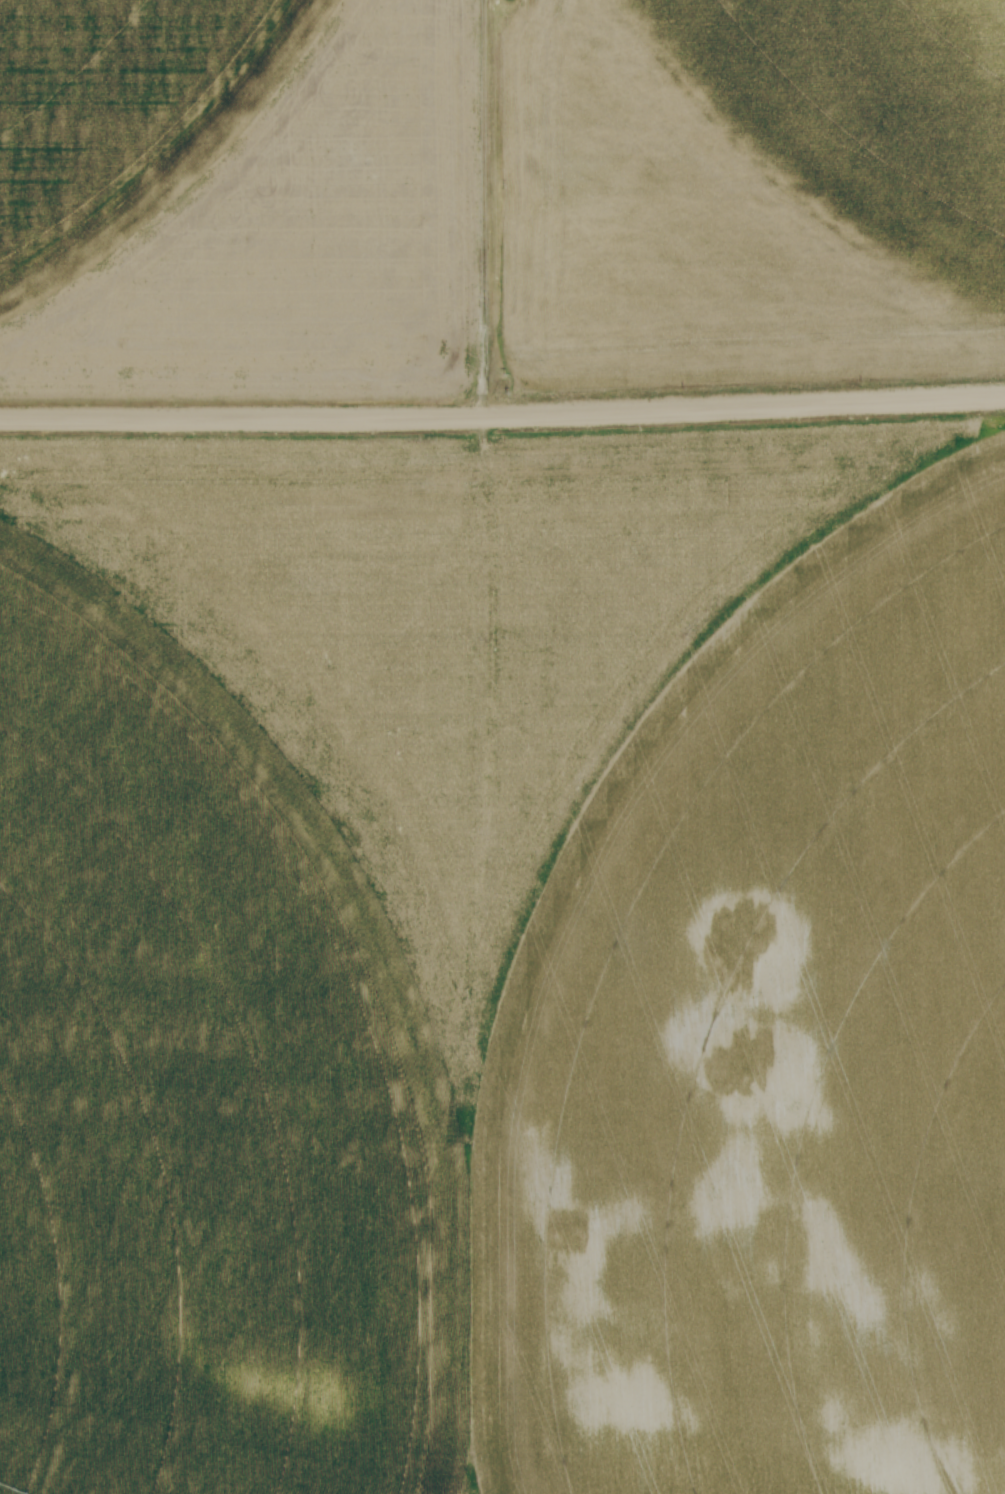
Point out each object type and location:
road: (502, 419)

